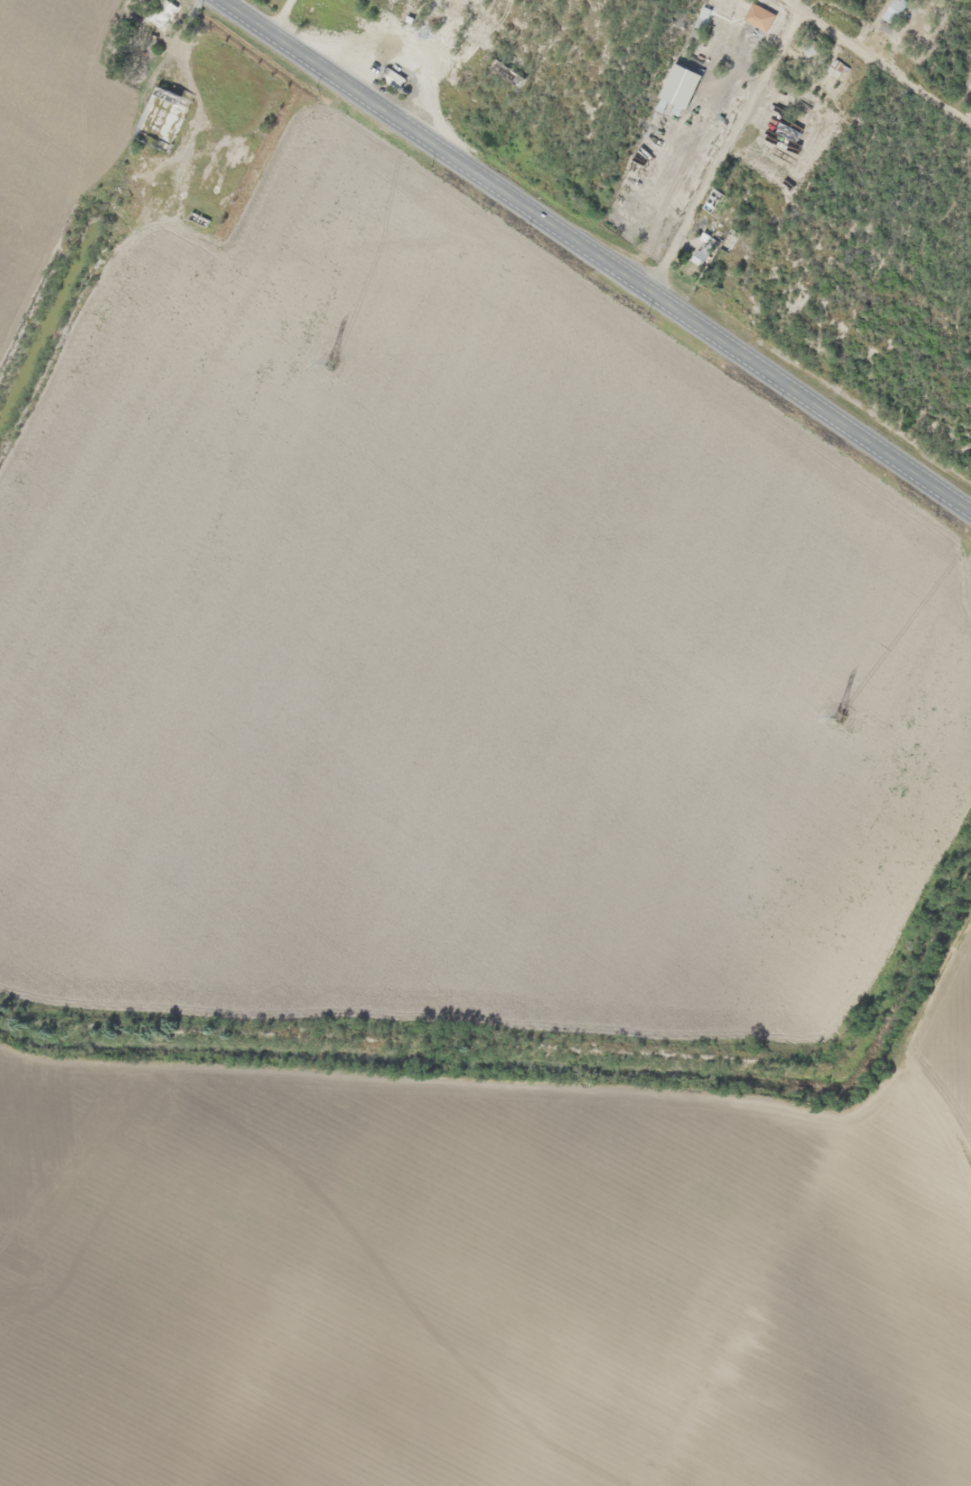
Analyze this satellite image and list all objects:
road: (880, 62)
road: (600, 253)
power tower: (334, 366)
power tower: (840, 718)

